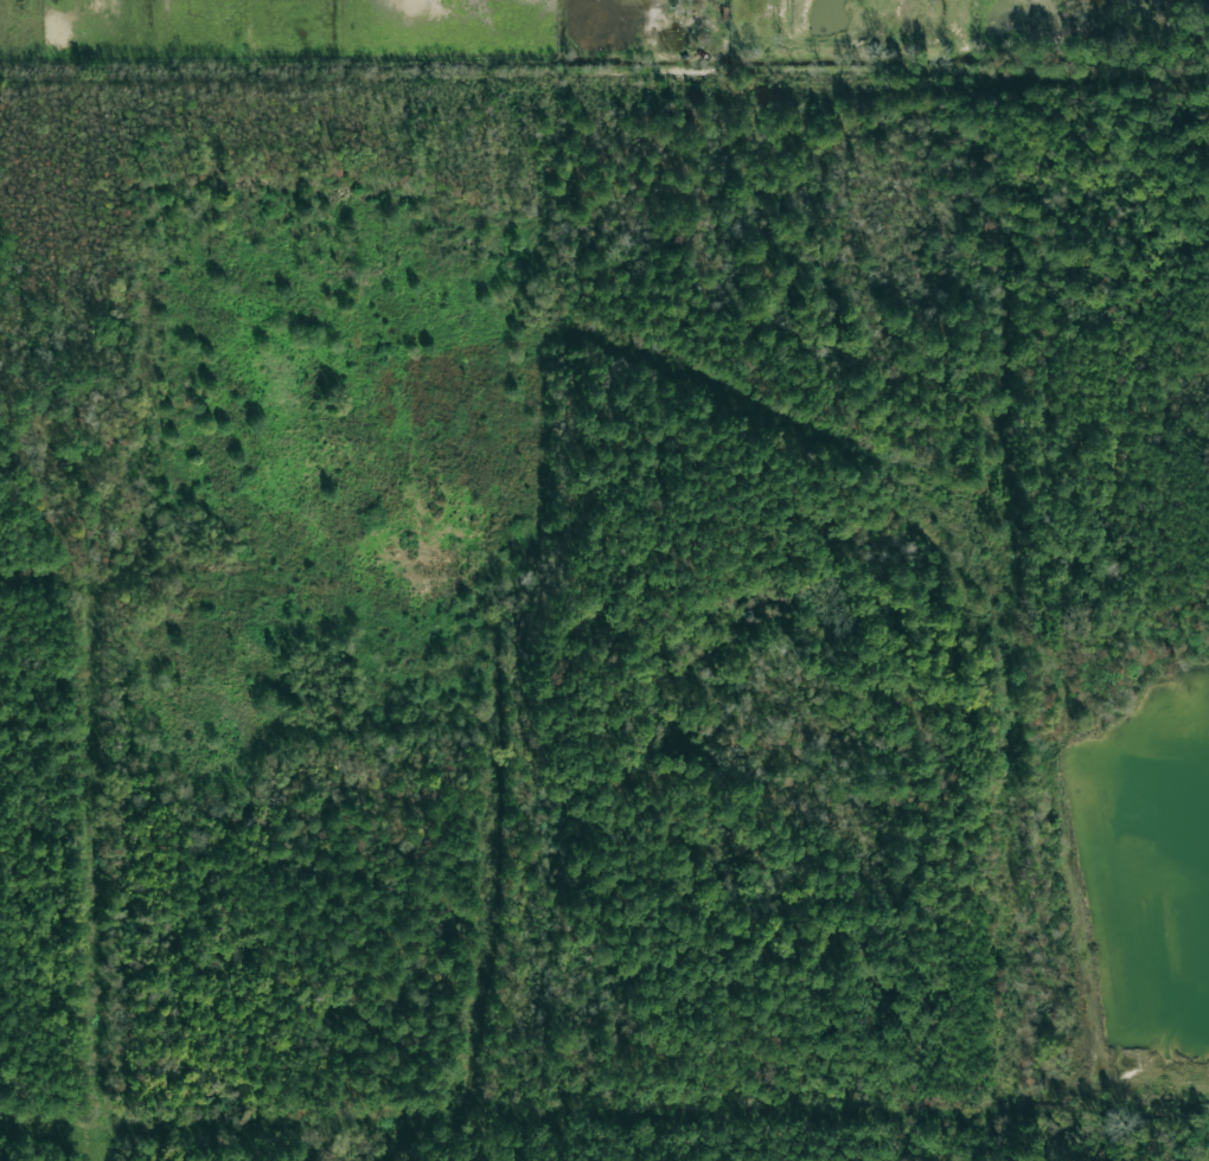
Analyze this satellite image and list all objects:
road: (1076, 1101)

